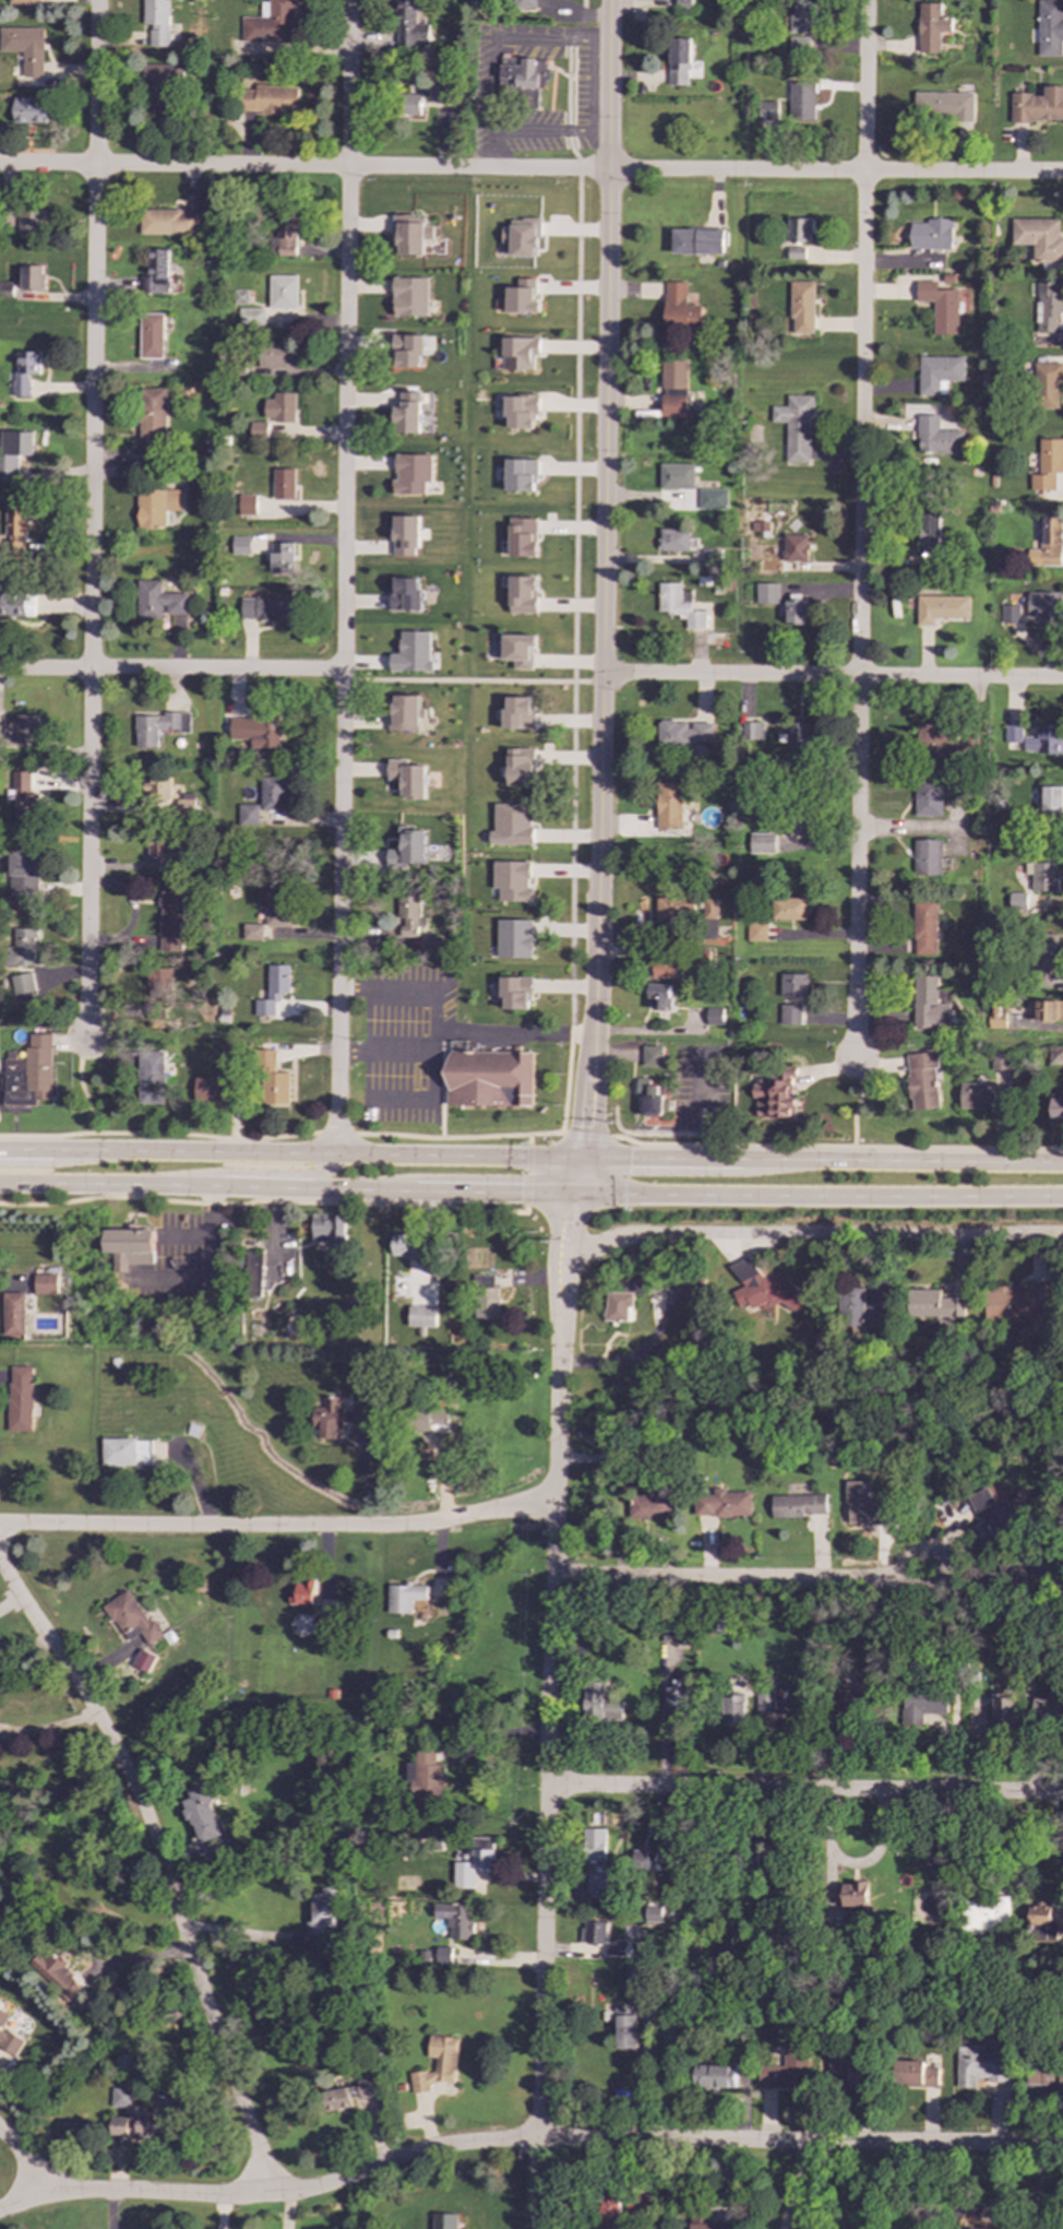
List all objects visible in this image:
building: (24, 1)
building: (525, 4)
building: (683, 4)
building: (803, 16)
building: (157, 23)
building: (270, 24)
building: (409, 25)
building: (931, 27)
building: (1050, 28)
building: (798, 47)
building: (25, 48)
building: (679, 62)
building: (162, 75)
building: (522, 79)
road: (490, 84)
building: (440, 95)
building: (271, 99)
building: (802, 100)
building: (410, 104)
building: (1039, 105)
building: (945, 108)
building: (29, 110)
road: (491, 149)
road: (530, 169)
building: (33, 221)
building: (169, 222)
building: (799, 229)
building: (931, 234)
building: (284, 235)
building: (411, 235)
building: (1039, 238)
building: (698, 241)
building: (157, 271)
building: (33, 277)
building: (283, 292)
building: (409, 296)
building: (522, 297)
building: (801, 306)
building: (940, 306)
building: (680, 308)
building: (1049, 310)
building: (251, 318)
building: (152, 334)
road: (346, 335)
road: (606, 335)
building: (408, 349)
building: (519, 353)
building: (275, 355)
building: (25, 370)
building: (674, 374)
building: (939, 374)
building: (1047, 384)
building: (673, 406)
building: (279, 407)
building: (521, 411)
building: (153, 414)
building: (407, 414)
building: (796, 427)
building: (259, 430)
building: (937, 437)
building: (12, 451)
building: (1048, 464)
building: (411, 473)
building: (521, 475)
building: (677, 476)
building: (283, 483)
building: (713, 498)
building: (247, 503)
building: (156, 506)
road: (92, 517)
building: (15, 530)
road: (860, 534)
building: (405, 535)
building: (931, 535)
building: (523, 536)
building: (674, 540)
building: (1047, 543)
building: (240, 545)
building: (796, 547)
building: (709, 556)
building: (282, 557)
road: (574, 564)
building: (767, 593)
building: (405, 594)
building: (523, 594)
building: (159, 600)
building: (679, 604)
building: (1044, 606)
building: (15, 607)
building: (266, 607)
building: (941, 608)
building: (797, 610)
building: (1010, 613)
building: (518, 650)
building: (411, 652)
road: (171, 669)
road: (832, 676)
road: (473, 680)
building: (405, 712)
building: (518, 713)
building: (159, 725)
building: (256, 731)
building: (753, 731)
building: (684, 732)
building: (22, 733)
building: (783, 734)
building: (1014, 734)
building: (797, 735)
building: (936, 739)
building: (1044, 739)
building: (526, 763)
building: (408, 778)
building: (273, 793)
building: (24, 797)
building: (170, 797)
building: (928, 797)
building: (1050, 799)
building: (669, 805)
building: (249, 815)
building: (512, 823)
building: (801, 826)
building: (762, 843)
building: (158, 845)
building: (408, 850)
building: (928, 856)
building: (23, 875)
building: (1042, 876)
building: (513, 880)
building: (1017, 902)
building: (710, 908)
building: (788, 908)
building: (276, 909)
building: (674, 910)
road: (339, 913)
building: (408, 915)
road: (596, 916)
building: (170, 921)
building: (927, 926)
building: (252, 932)
building: (756, 932)
building: (515, 938)
building: (431, 944)
building: (1044, 959)
building: (665, 968)
building: (22, 984)
building: (793, 984)
building: (273, 989)
building: (516, 993)
building: (158, 995)
building: (660, 996)
building: (929, 1004)
building: (1046, 1010)
building: (790, 1013)
building: (714, 1016)
building: (998, 1017)
road: (445, 1030)
road: (653, 1030)
road: (433, 1041)
building: (652, 1055)
building: (1055, 1055)
road: (432, 1060)
building: (1000, 1062)
building: (27, 1071)
building: (151, 1077)
building: (487, 1077)
building: (272, 1080)
building: (922, 1080)
road: (80, 1084)
building: (211, 1088)
building: (977, 1095)
building: (649, 1096)
road: (856, 1106)
building: (1056, 1108)
road: (279, 1136)
road: (583, 1136)
road: (834, 1146)
road: (24, 1151)
road: (313, 1153)
road: (658, 1159)
road: (900, 1159)
road: (275, 1173)
road: (525, 1173)
road: (575, 1175)
road: (207, 1184)
road: (492, 1188)
road: (816, 1193)
road: (262, 1204)
building: (327, 1228)
road: (814, 1235)
building: (403, 1244)
building: (128, 1248)
road: (552, 1266)
road: (568, 1267)
building: (252, 1272)
building: (47, 1284)
building: (764, 1289)
building: (486, 1296)
building: (622, 1301)
building: (1015, 1302)
building: (933, 1304)
building: (858, 1308)
building: (13, 1314)
building: (420, 1316)
road: (632, 1356)
building: (20, 1398)
building: (335, 1418)
building: (426, 1419)
building: (721, 1504)
building: (798, 1505)
building: (862, 1505)
building: (649, 1506)
road: (278, 1527)
road: (755, 1579)
building: (325, 1590)
building: (301, 1592)
building: (404, 1596)
building: (131, 1617)
building: (324, 1623)
building: (724, 1625)
building: (670, 1635)
building: (144, 1660)
building: (676, 1694)
building: (764, 1703)
building: (922, 1703)
building: (600, 1704)
building: (1002, 1707)
building: (732, 1709)
building: (1046, 1709)
road: (48, 1728)
building: (423, 1778)
road: (547, 1787)
road: (804, 1790)
building: (203, 1814)
building: (595, 1845)
building: (644, 1860)
building: (474, 1862)
road: (164, 1866)
building: (597, 1884)
building: (853, 1894)
building: (320, 1913)
building: (650, 1913)
building: (984, 1914)
building: (456, 1919)
building: (1040, 1924)
road: (246, 1931)
building: (593, 1932)
building: (616, 1947)
building: (60, 1973)
building: (636, 1973)
building: (625, 2031)
building: (8, 2036)
building: (437, 2063)
building: (839, 2064)
building: (786, 2068)
building: (917, 2074)
building: (1044, 2075)
building: (714, 2076)
building: (120, 2097)
building: (336, 2099)
building: (140, 2124)
road: (526, 2139)
road: (26, 2161)
building: (608, 2209)
road: (114, 2210)
building: (989, 2215)
road: (999, 2216)
building: (443, 2221)
building: (708, 2226)

